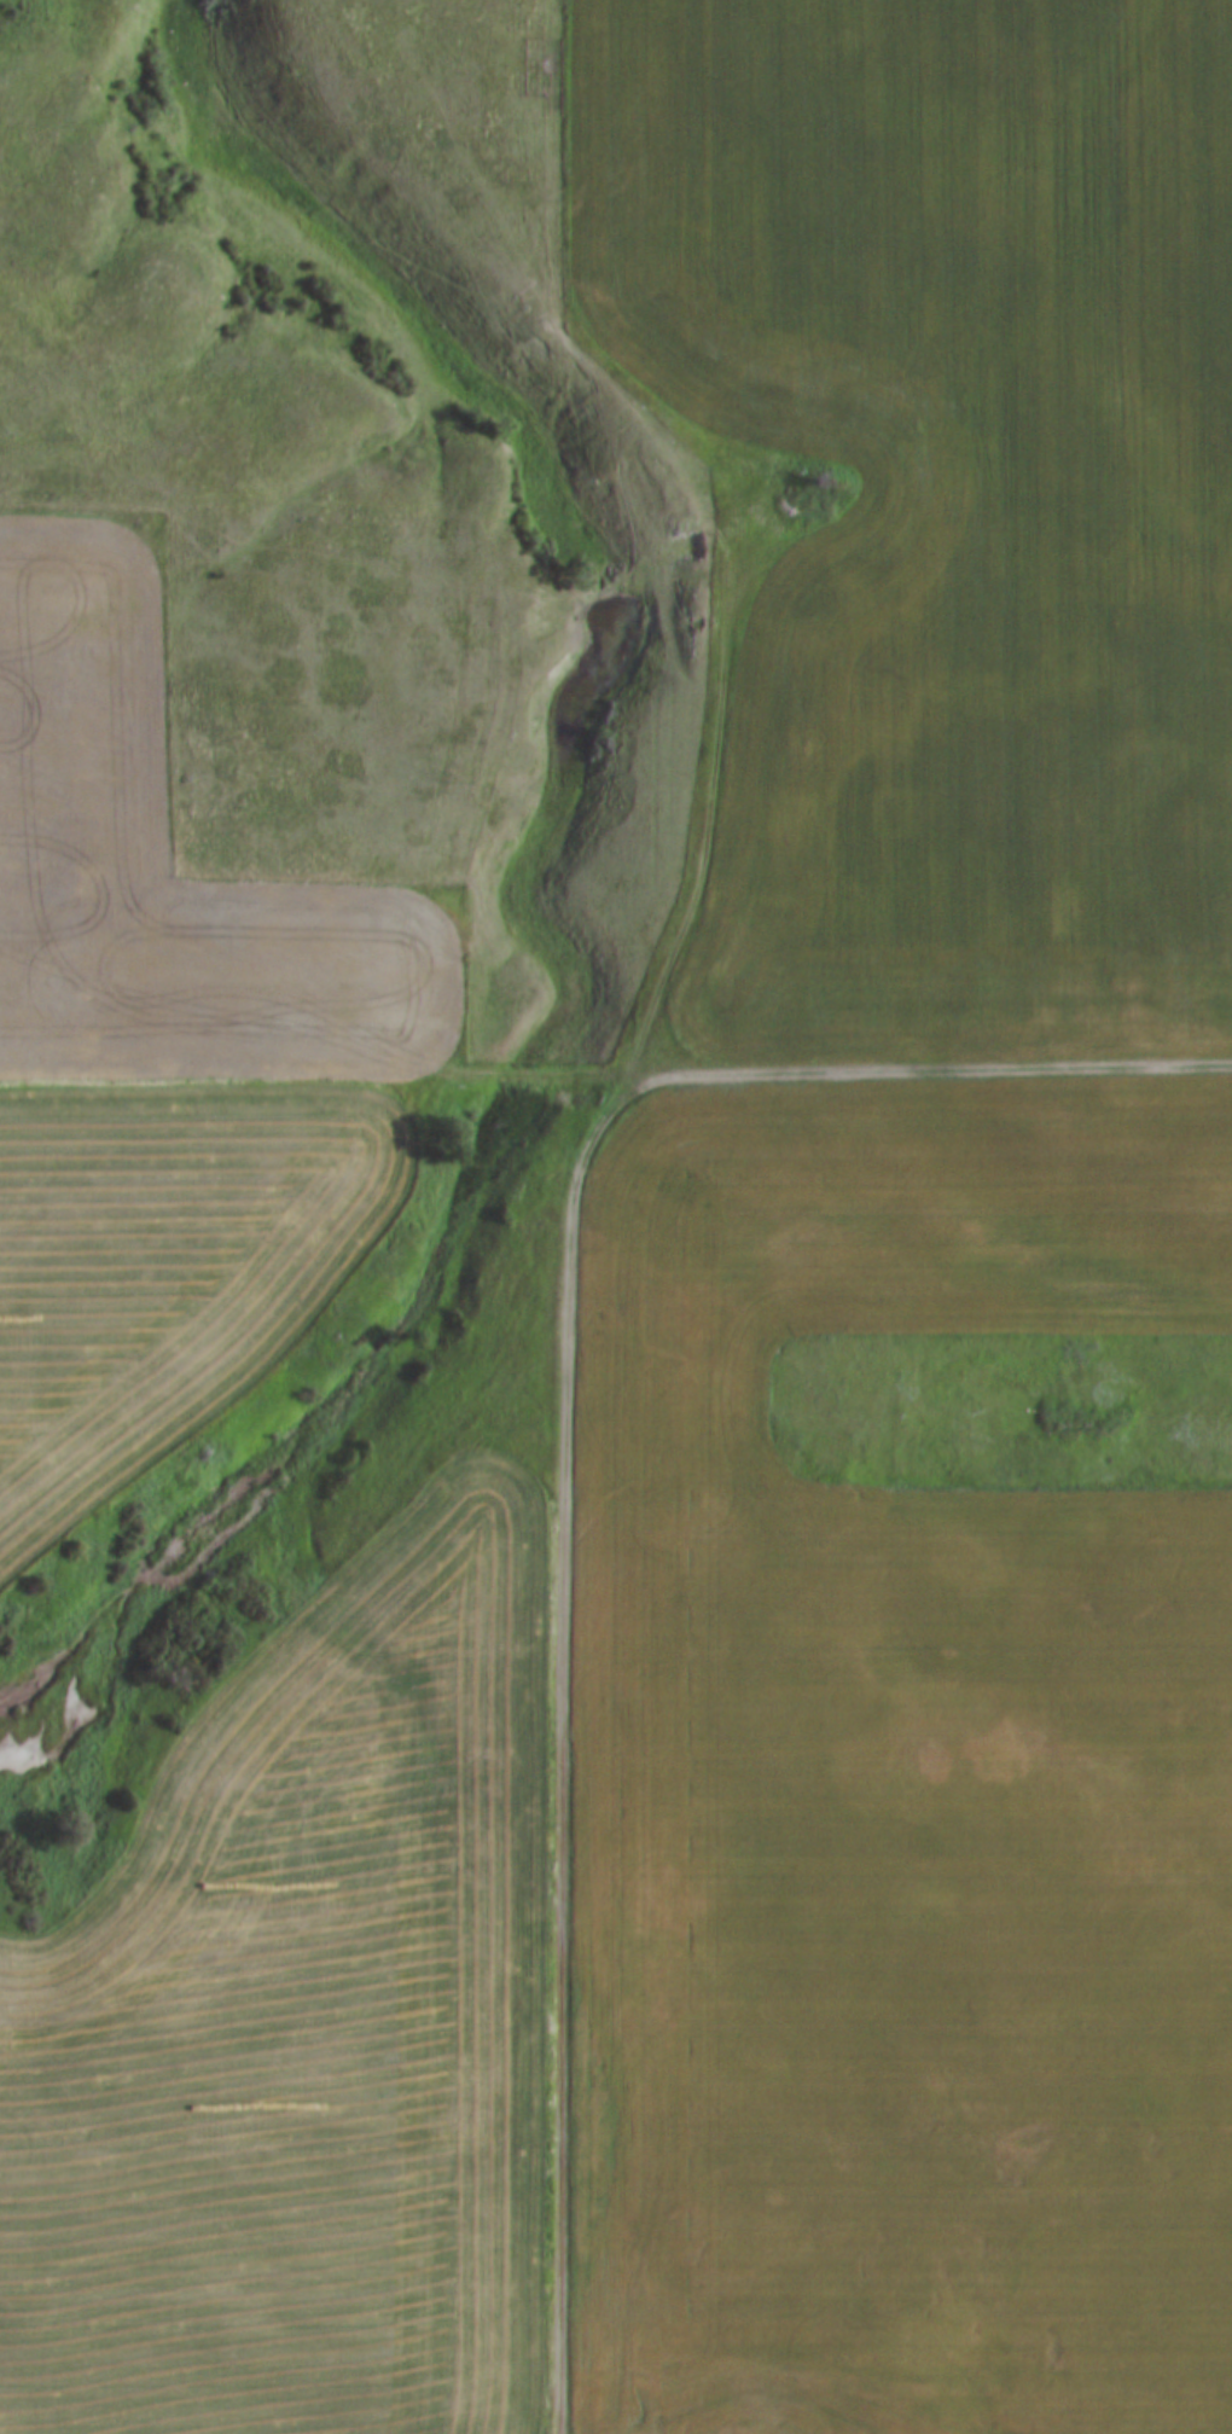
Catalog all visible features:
road: (557, 1448)

